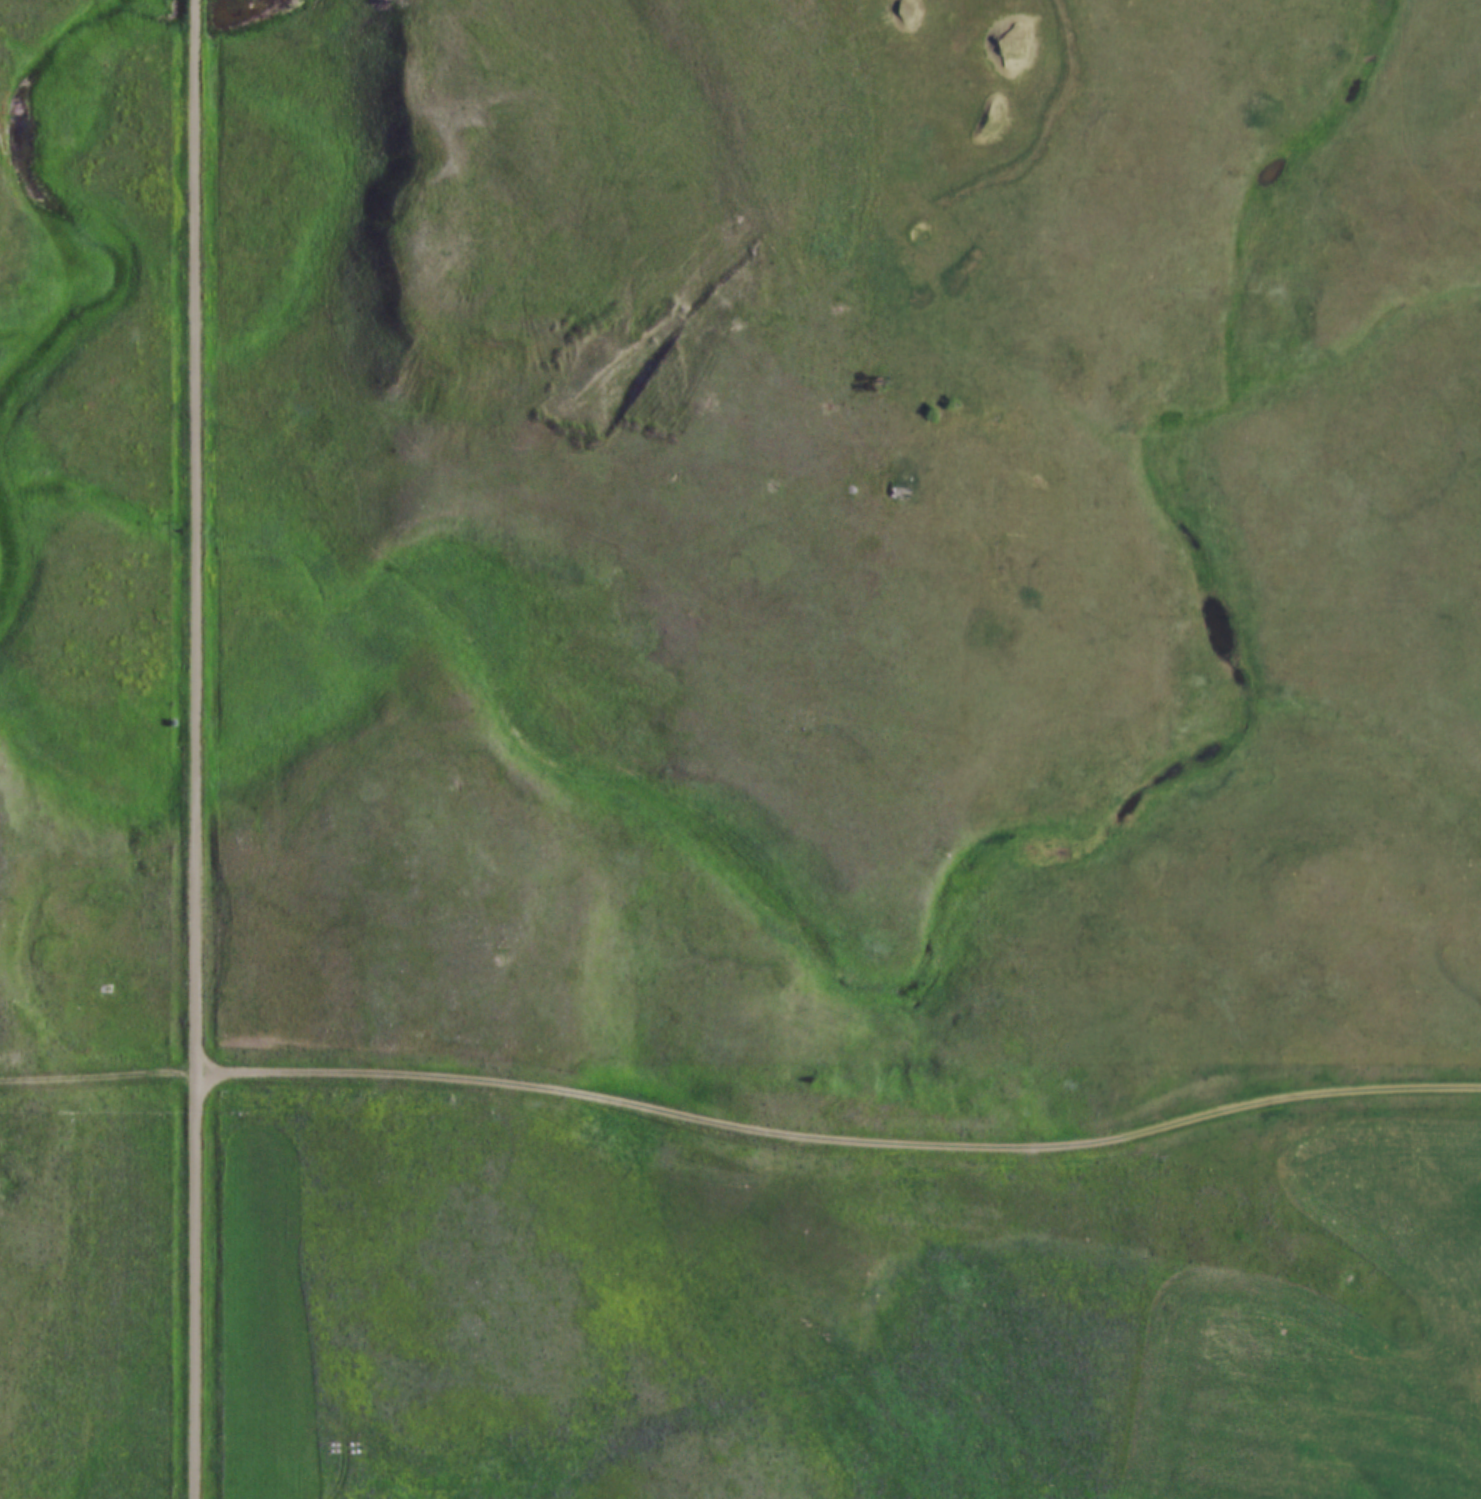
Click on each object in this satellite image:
road: (716, 55)
road: (872, 151)
quarry: (658, 220)
road: (194, 749)
road: (97, 1076)
road: (837, 1152)

